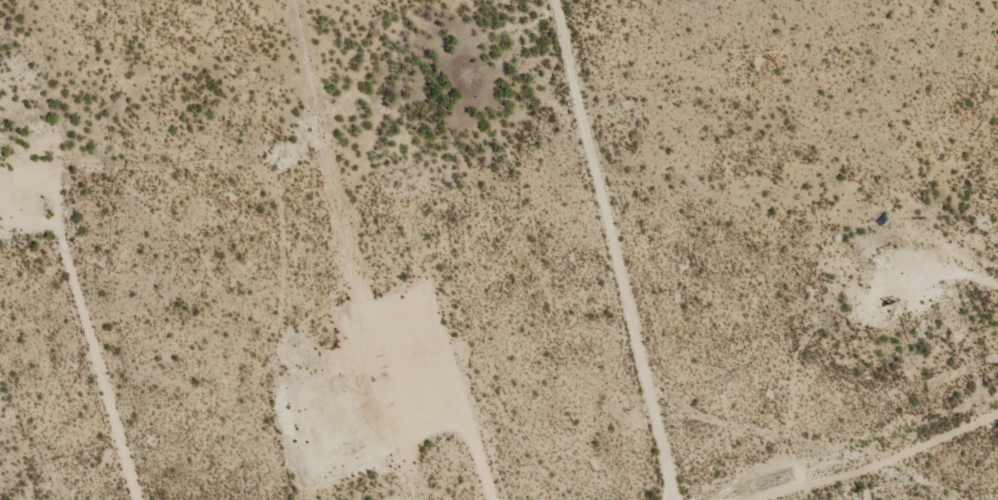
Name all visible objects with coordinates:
road: (573, 250)
road: (870, 465)

